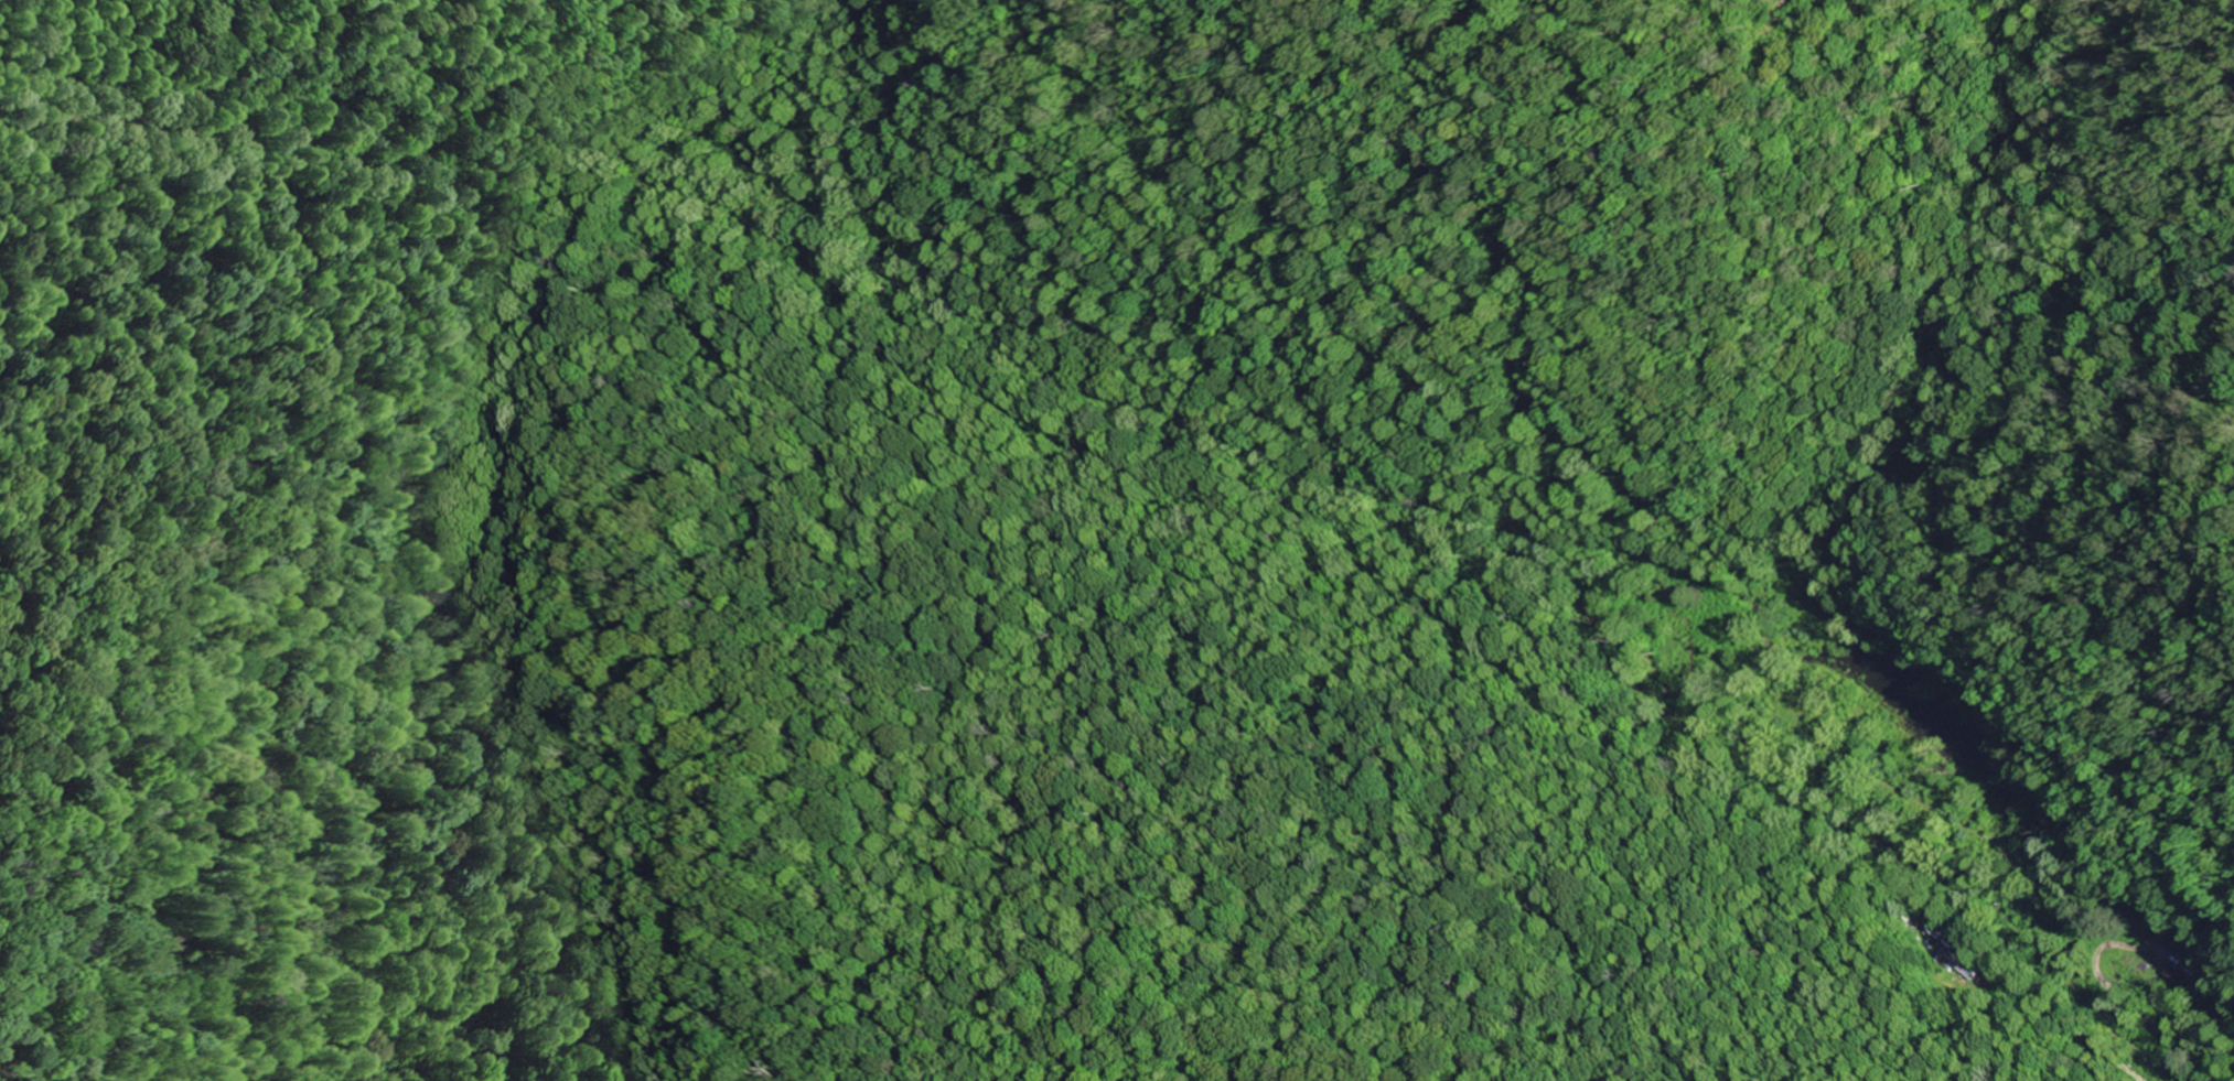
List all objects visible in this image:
building: (1956, 970)
building: (2171, 977)
road: (2195, 1077)

